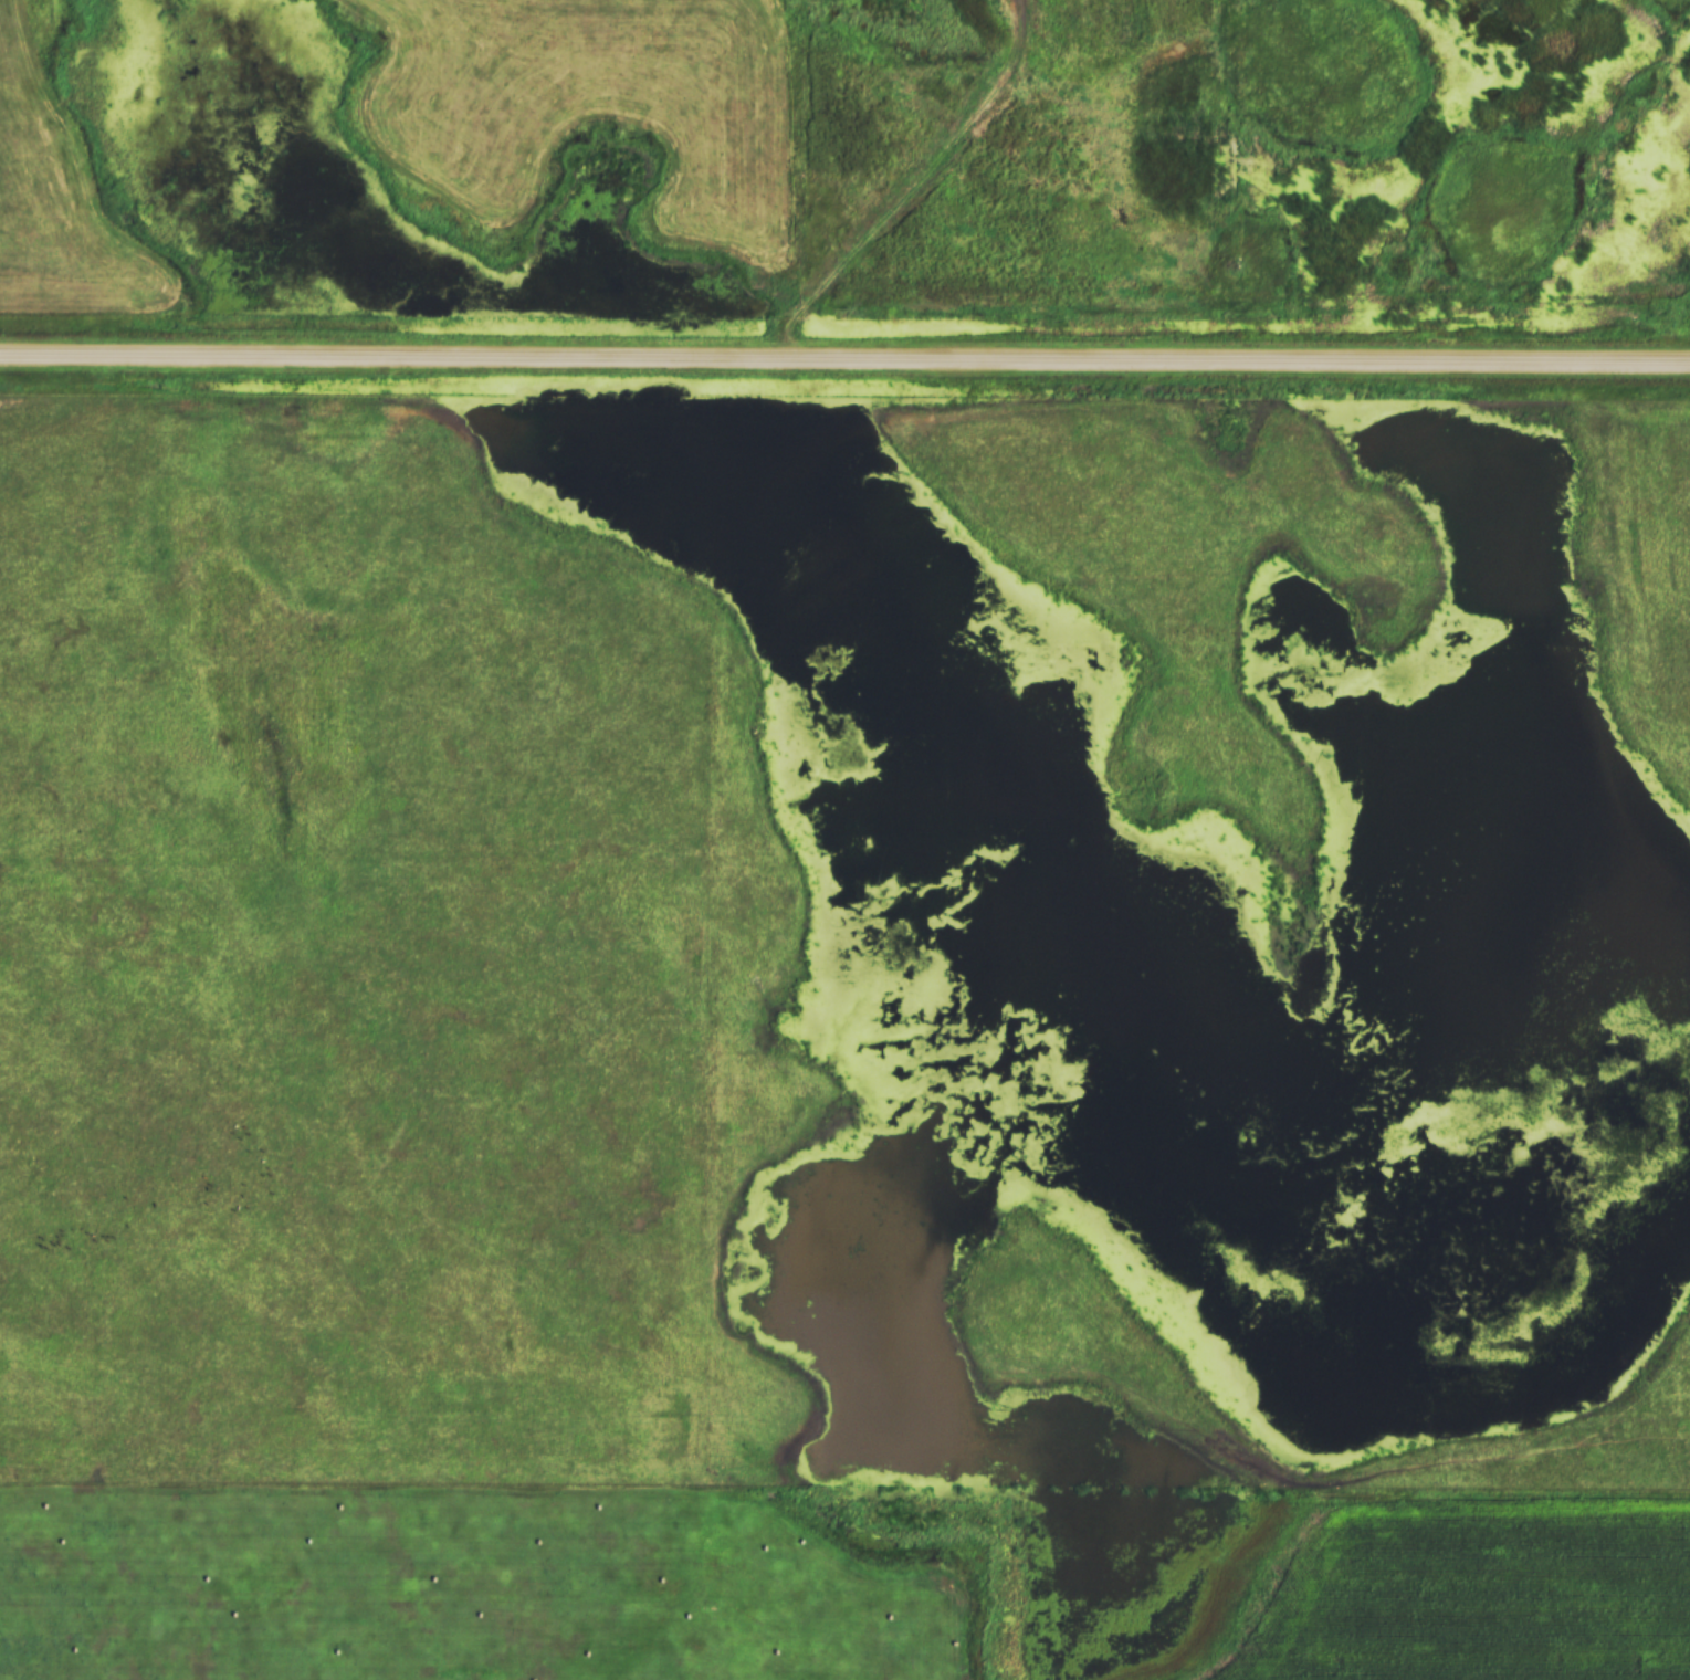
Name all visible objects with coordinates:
airport: (1459, 159)
road: (844, 363)

